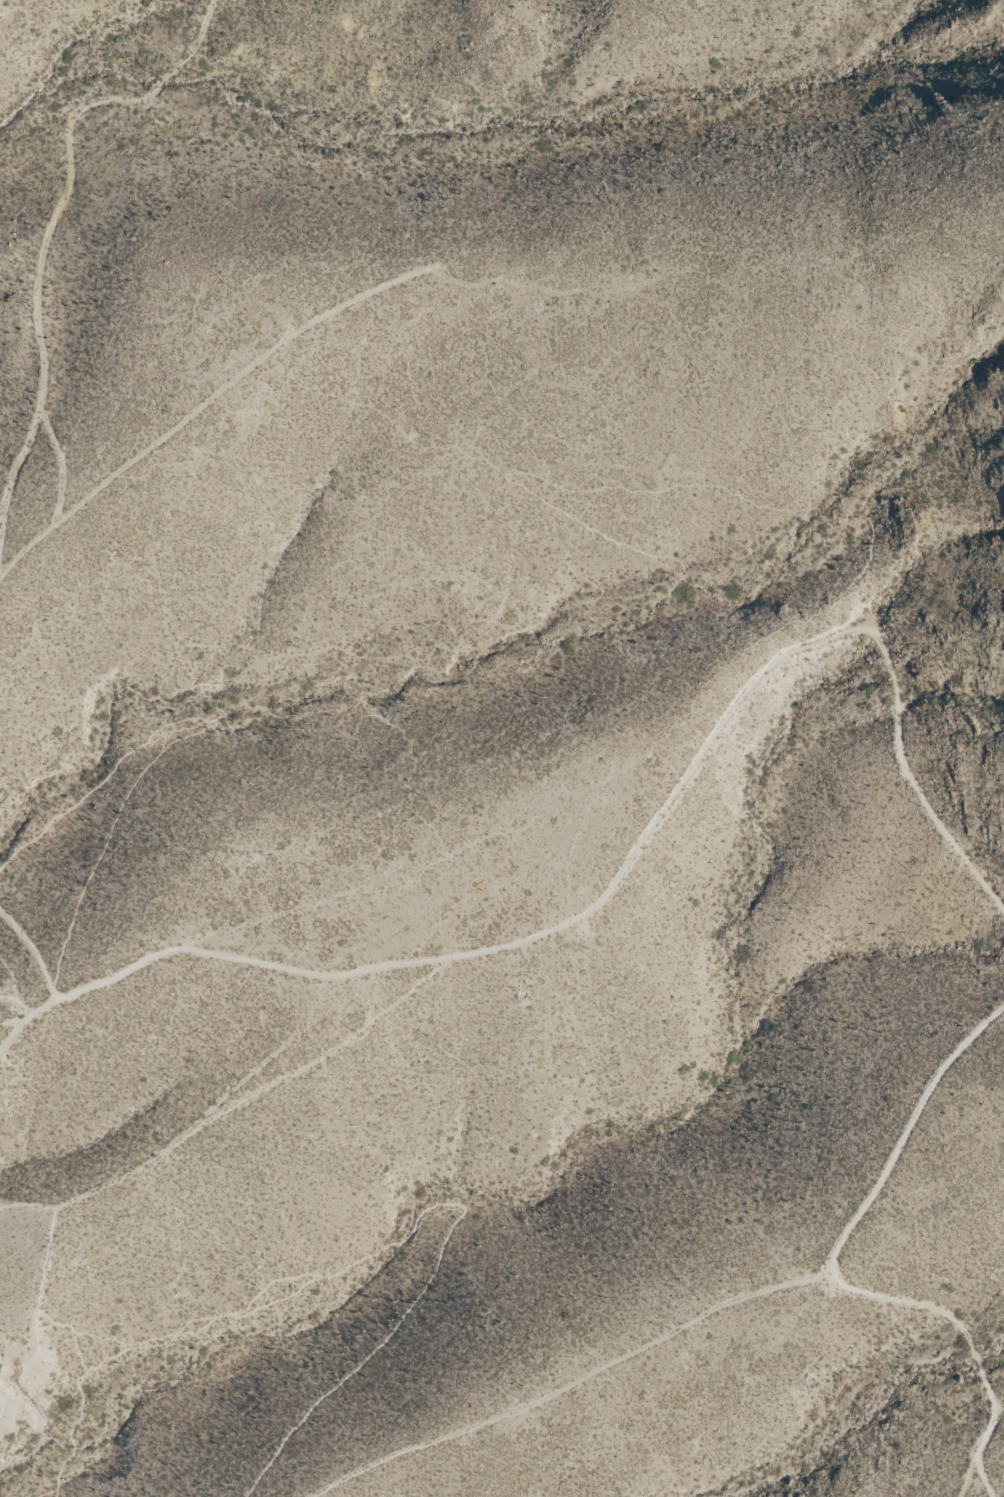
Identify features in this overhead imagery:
road: (335, 712)
road: (98, 854)
road: (610, 890)
road: (175, 1143)
road: (383, 1247)
road: (837, 1274)
road: (575, 1383)
road: (972, 1481)

